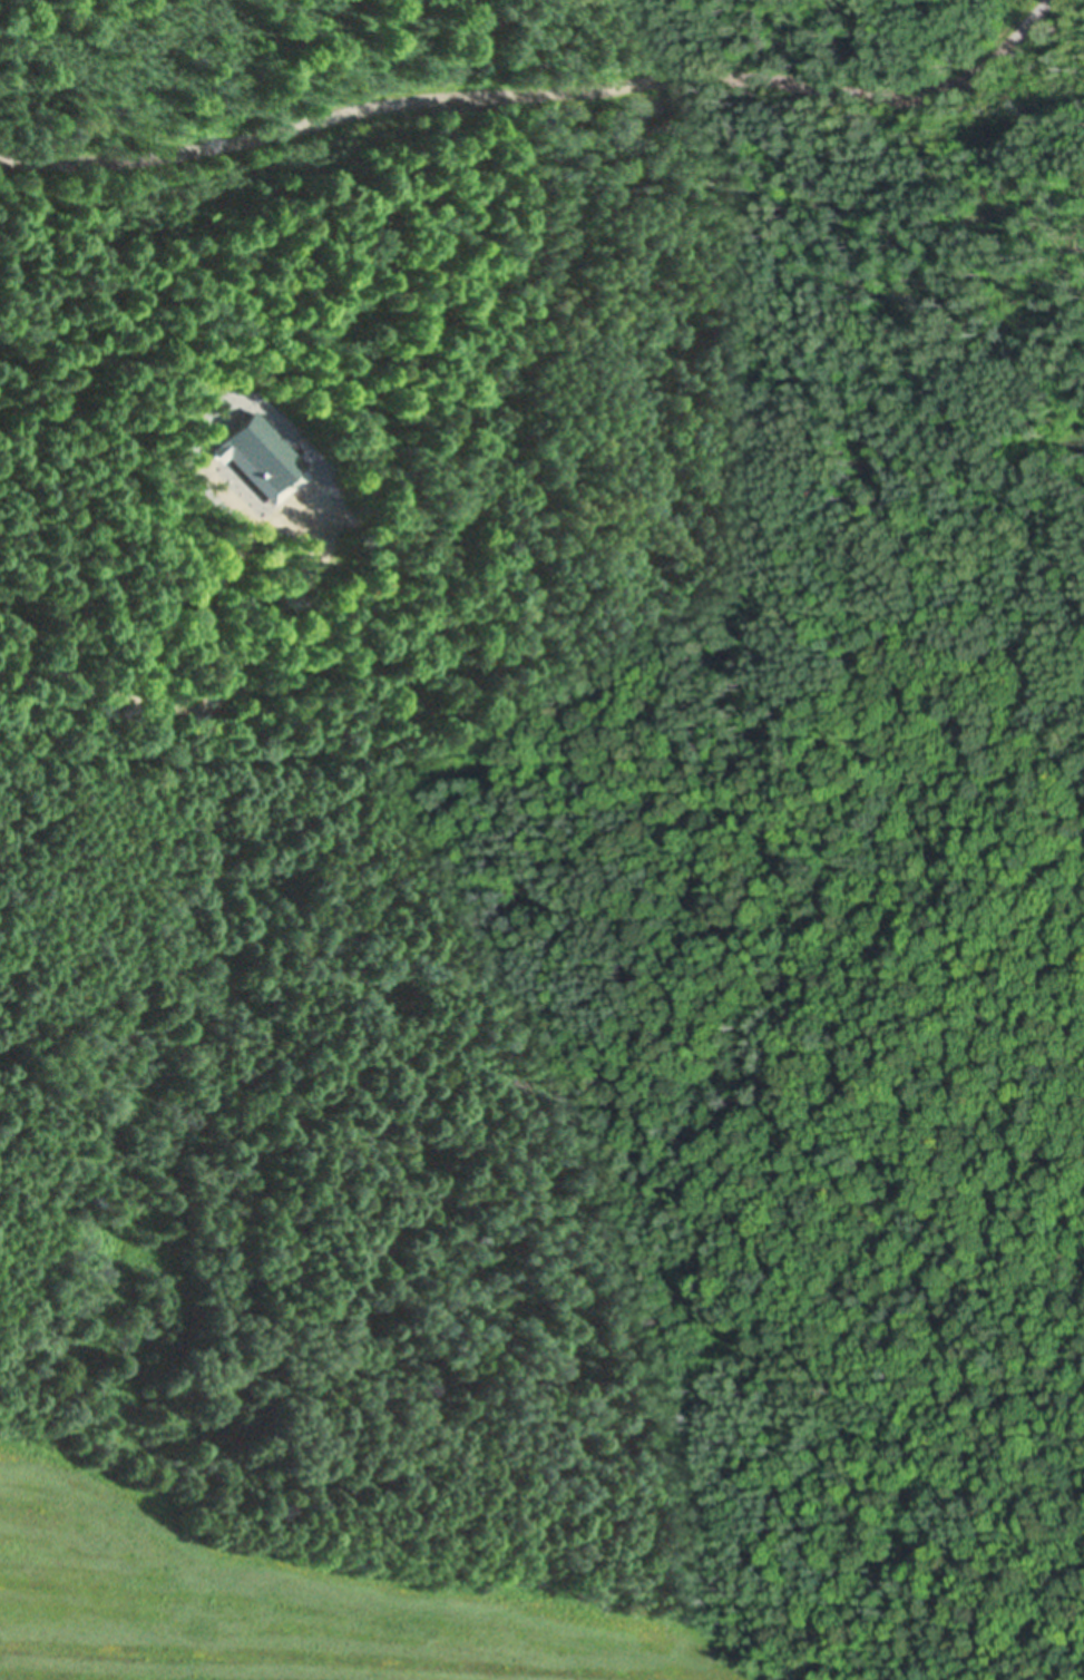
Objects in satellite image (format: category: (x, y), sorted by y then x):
road: (535, 90)

